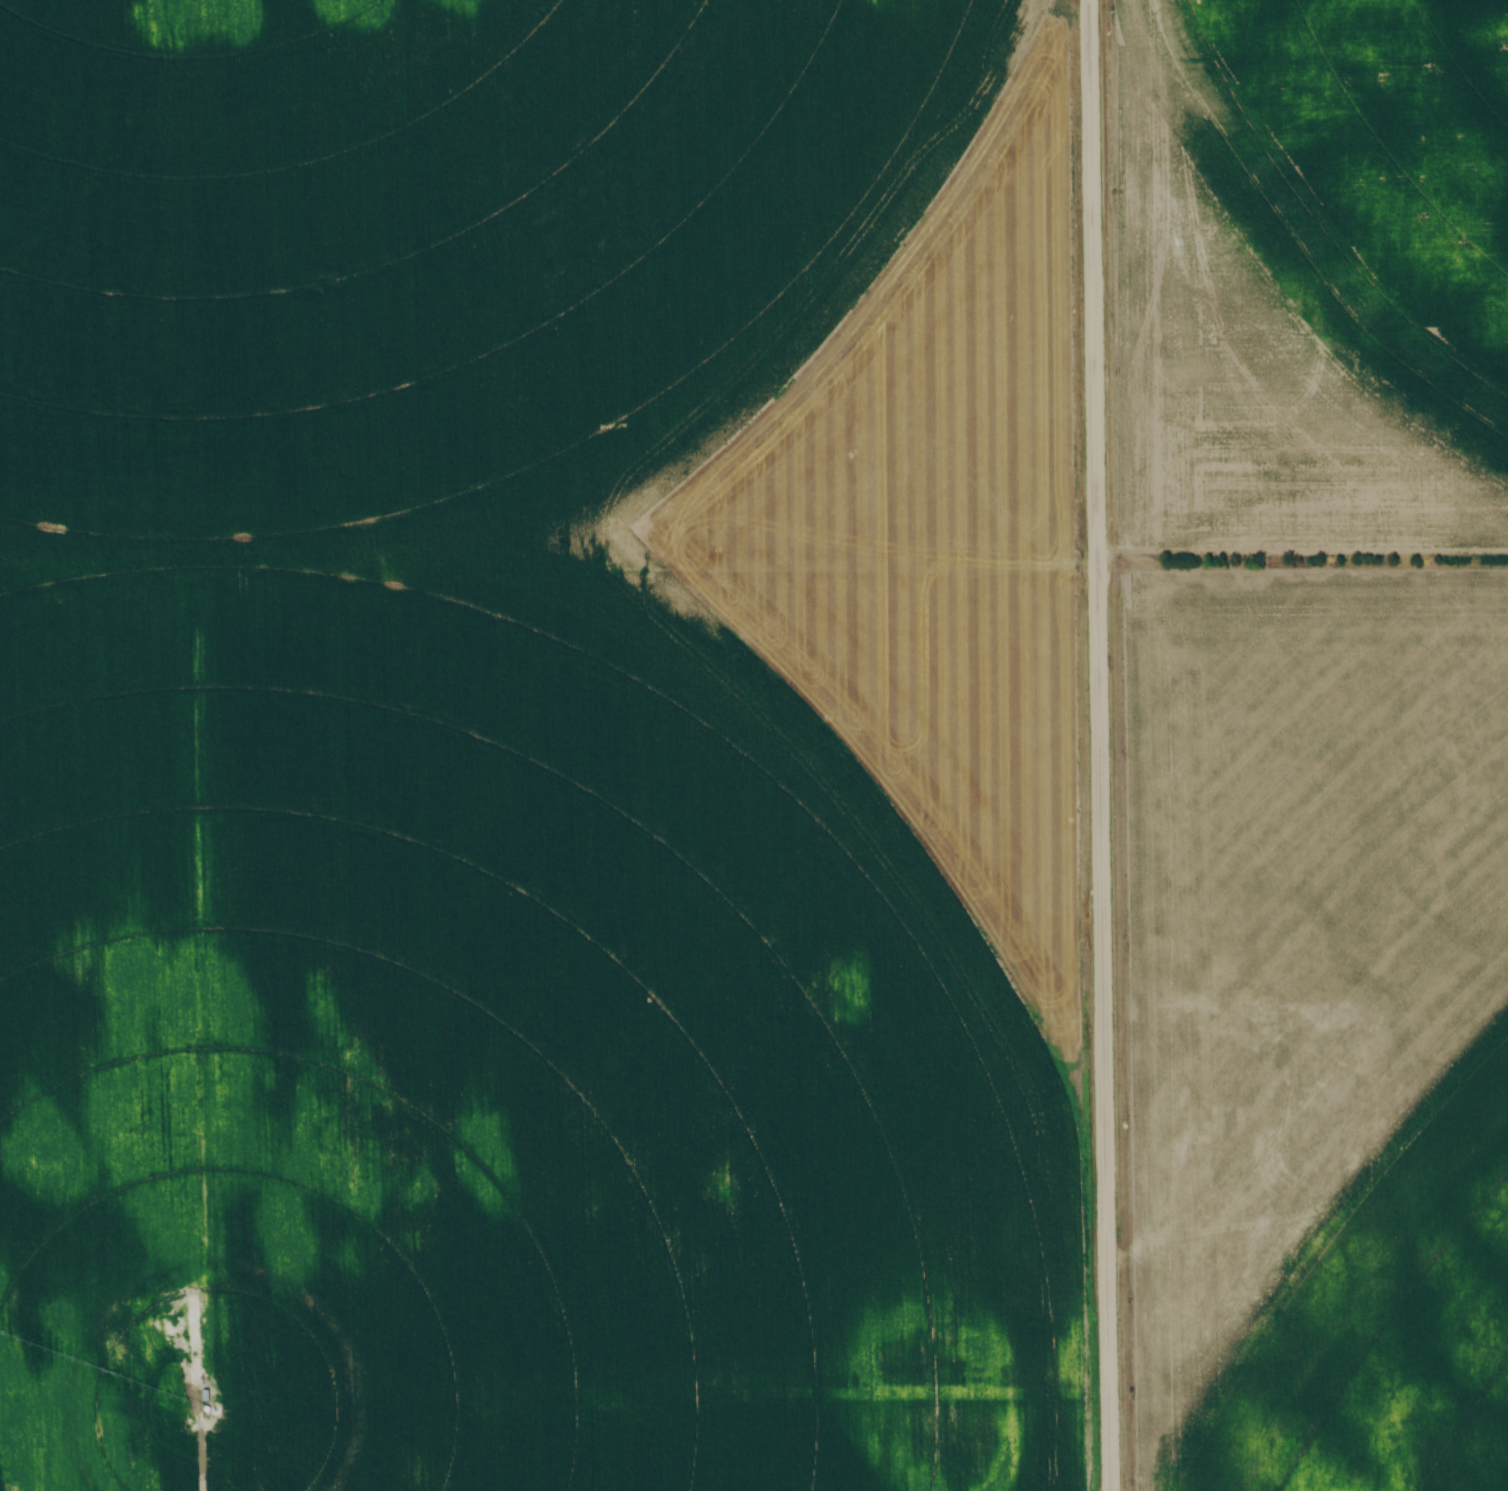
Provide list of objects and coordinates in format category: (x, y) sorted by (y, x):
road: (1105, 745)

